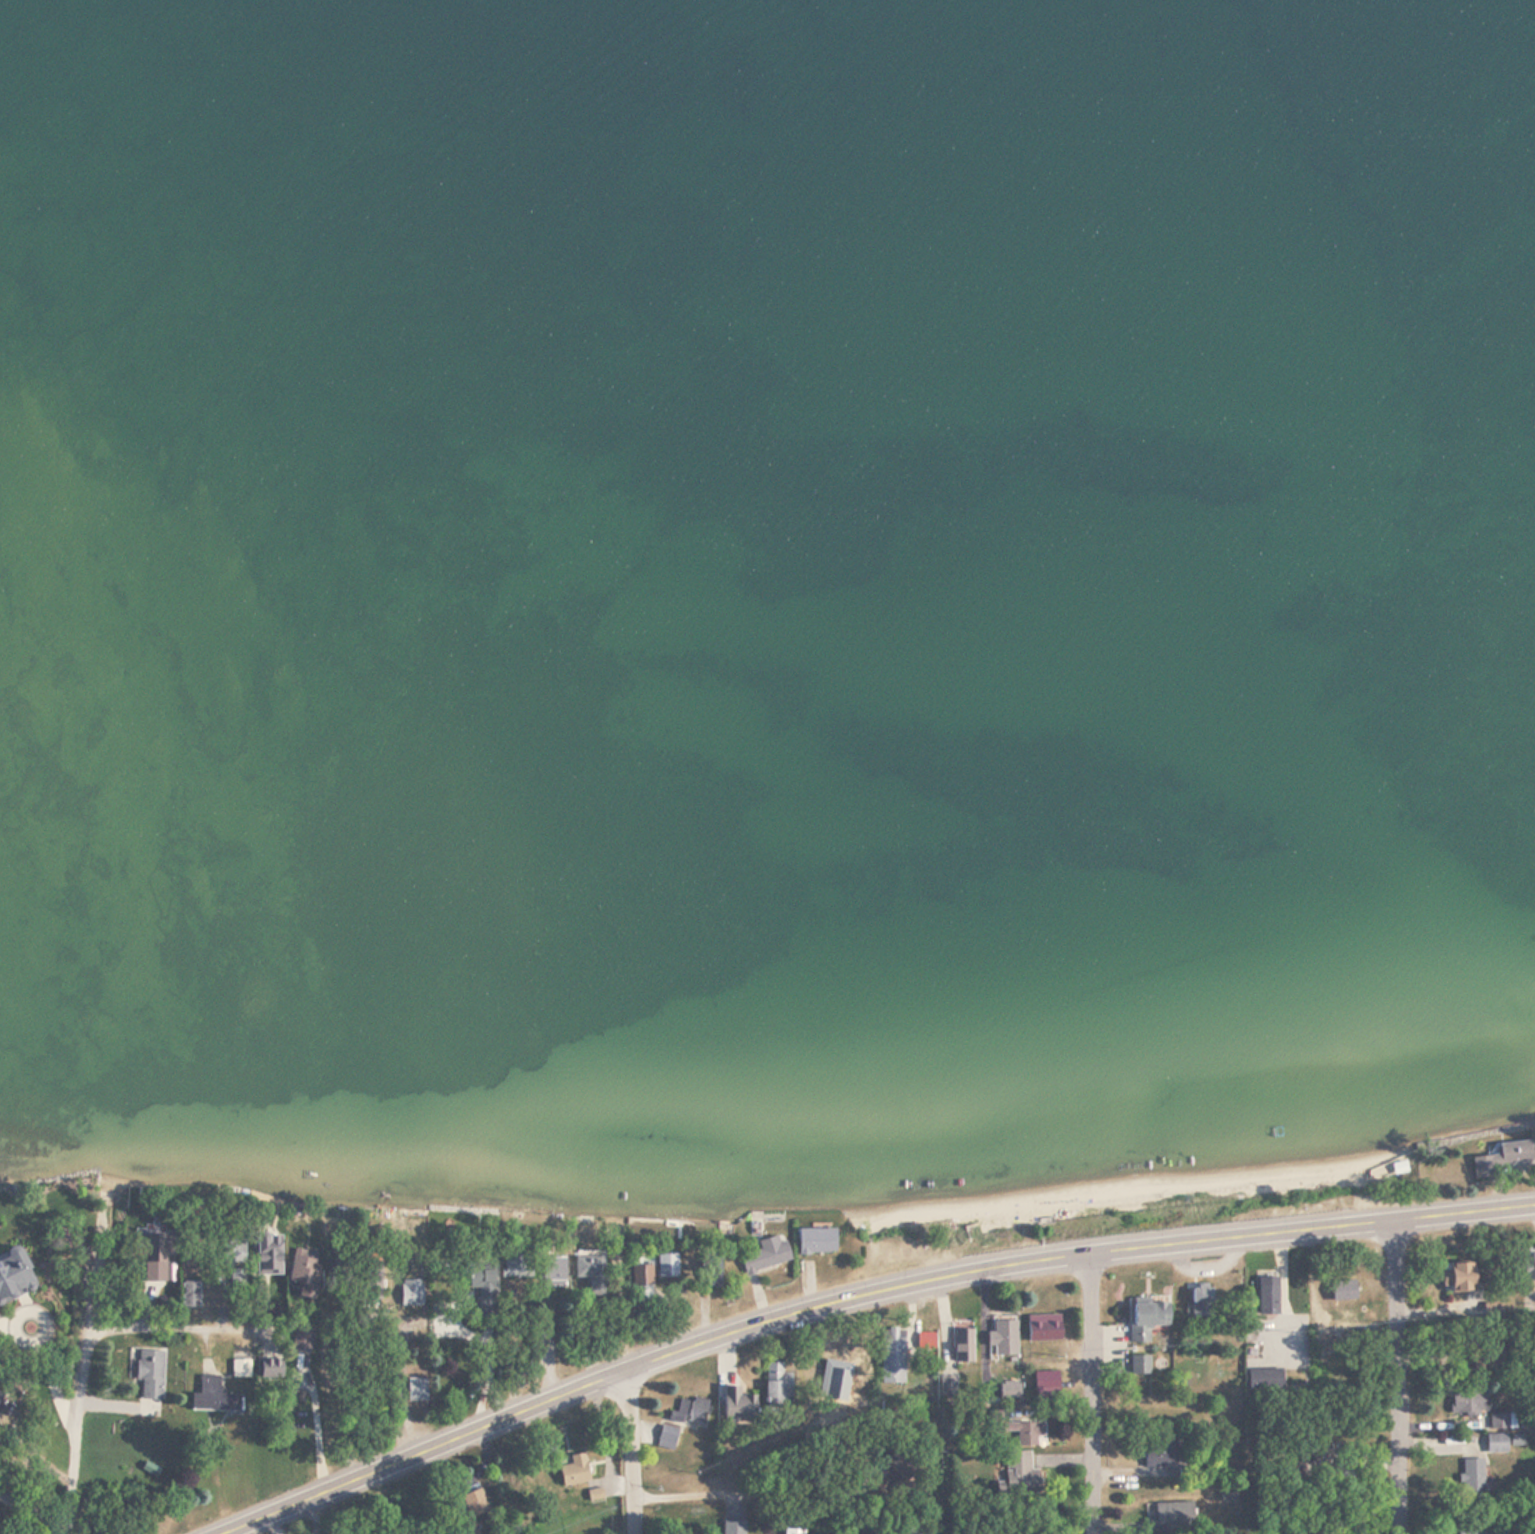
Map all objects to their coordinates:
building: (1500, 1159)
building: (816, 1242)
building: (235, 1253)
building: (268, 1254)
building: (157, 1255)
building: (765, 1255)
building: (515, 1265)
building: (666, 1266)
building: (1526, 1267)
building: (553, 1271)
building: (713, 1272)
building: (590, 1273)
building: (14, 1275)
building: (303, 1275)
building: (1457, 1278)
building: (482, 1288)
building: (1347, 1289)
building: (411, 1292)
road: (627, 1292)
building: (189, 1294)
building: (1267, 1296)
road: (860, 1298)
building: (1201, 1301)
building: (1147, 1320)
building: (1044, 1328)
road: (177, 1331)
building: (1004, 1339)
building: (963, 1346)
building: (302, 1348)
building: (892, 1356)
building: (1139, 1365)
building: (240, 1369)
road: (80, 1372)
building: (150, 1375)
road: (1392, 1377)
building: (776, 1385)
building: (948, 1386)
building: (1045, 1387)
road: (1102, 1391)
building: (0, 1395)
building: (215, 1397)
building: (1468, 1402)
building: (738, 1406)
road: (317, 1411)
building: (690, 1411)
building: (1499, 1422)
building: (1019, 1432)
building: (666, 1437)
building: (1496, 1443)
road: (636, 1451)
building: (1160, 1451)
building: (574, 1471)
building: (1016, 1472)
building: (1472, 1476)
building: (478, 1506)
building: (1167, 1518)
building: (733, 1527)
building: (793, 1531)
building: (1482, 1533)

